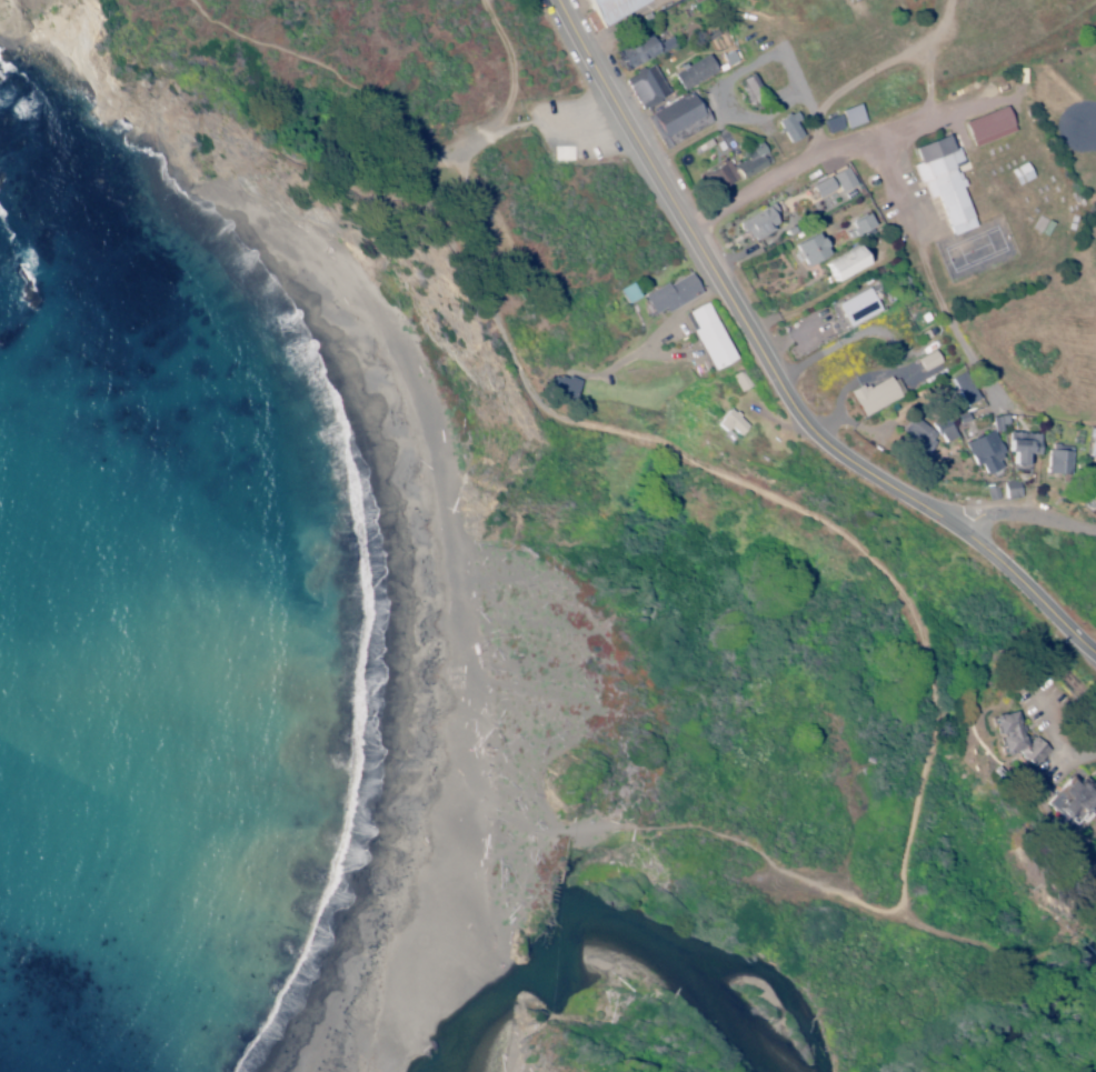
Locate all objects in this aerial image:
building: (614, 9)
building: (645, 53)
building: (696, 73)
road: (313, 81)
building: (648, 89)
building: (751, 92)
building: (854, 118)
road: (815, 120)
building: (680, 121)
road: (585, 123)
building: (835, 127)
building: (994, 128)
building: (791, 129)
road: (1092, 129)
road: (530, 132)
parking lot: (579, 132)
road: (808, 160)
building: (738, 170)
building: (946, 183)
building: (759, 226)
building: (863, 226)
building: (810, 251)
building: (847, 266)
road: (934, 280)
building: (630, 295)
building: (671, 295)
building: (858, 309)
building: (711, 339)
building: (930, 363)
road: (769, 379)
building: (564, 388)
building: (969, 390)
road: (753, 398)
building: (879, 398)
road: (757, 405)
building: (733, 428)
building: (927, 438)
building: (1024, 451)
building: (1095, 452)
building: (987, 457)
building: (1060, 462)
road: (746, 498)
road: (1019, 513)
road: (914, 530)
park: (598, 599)
building: (1018, 740)
parking lot: (1058, 769)
building: (1074, 802)
road: (854, 826)
road: (726, 838)

